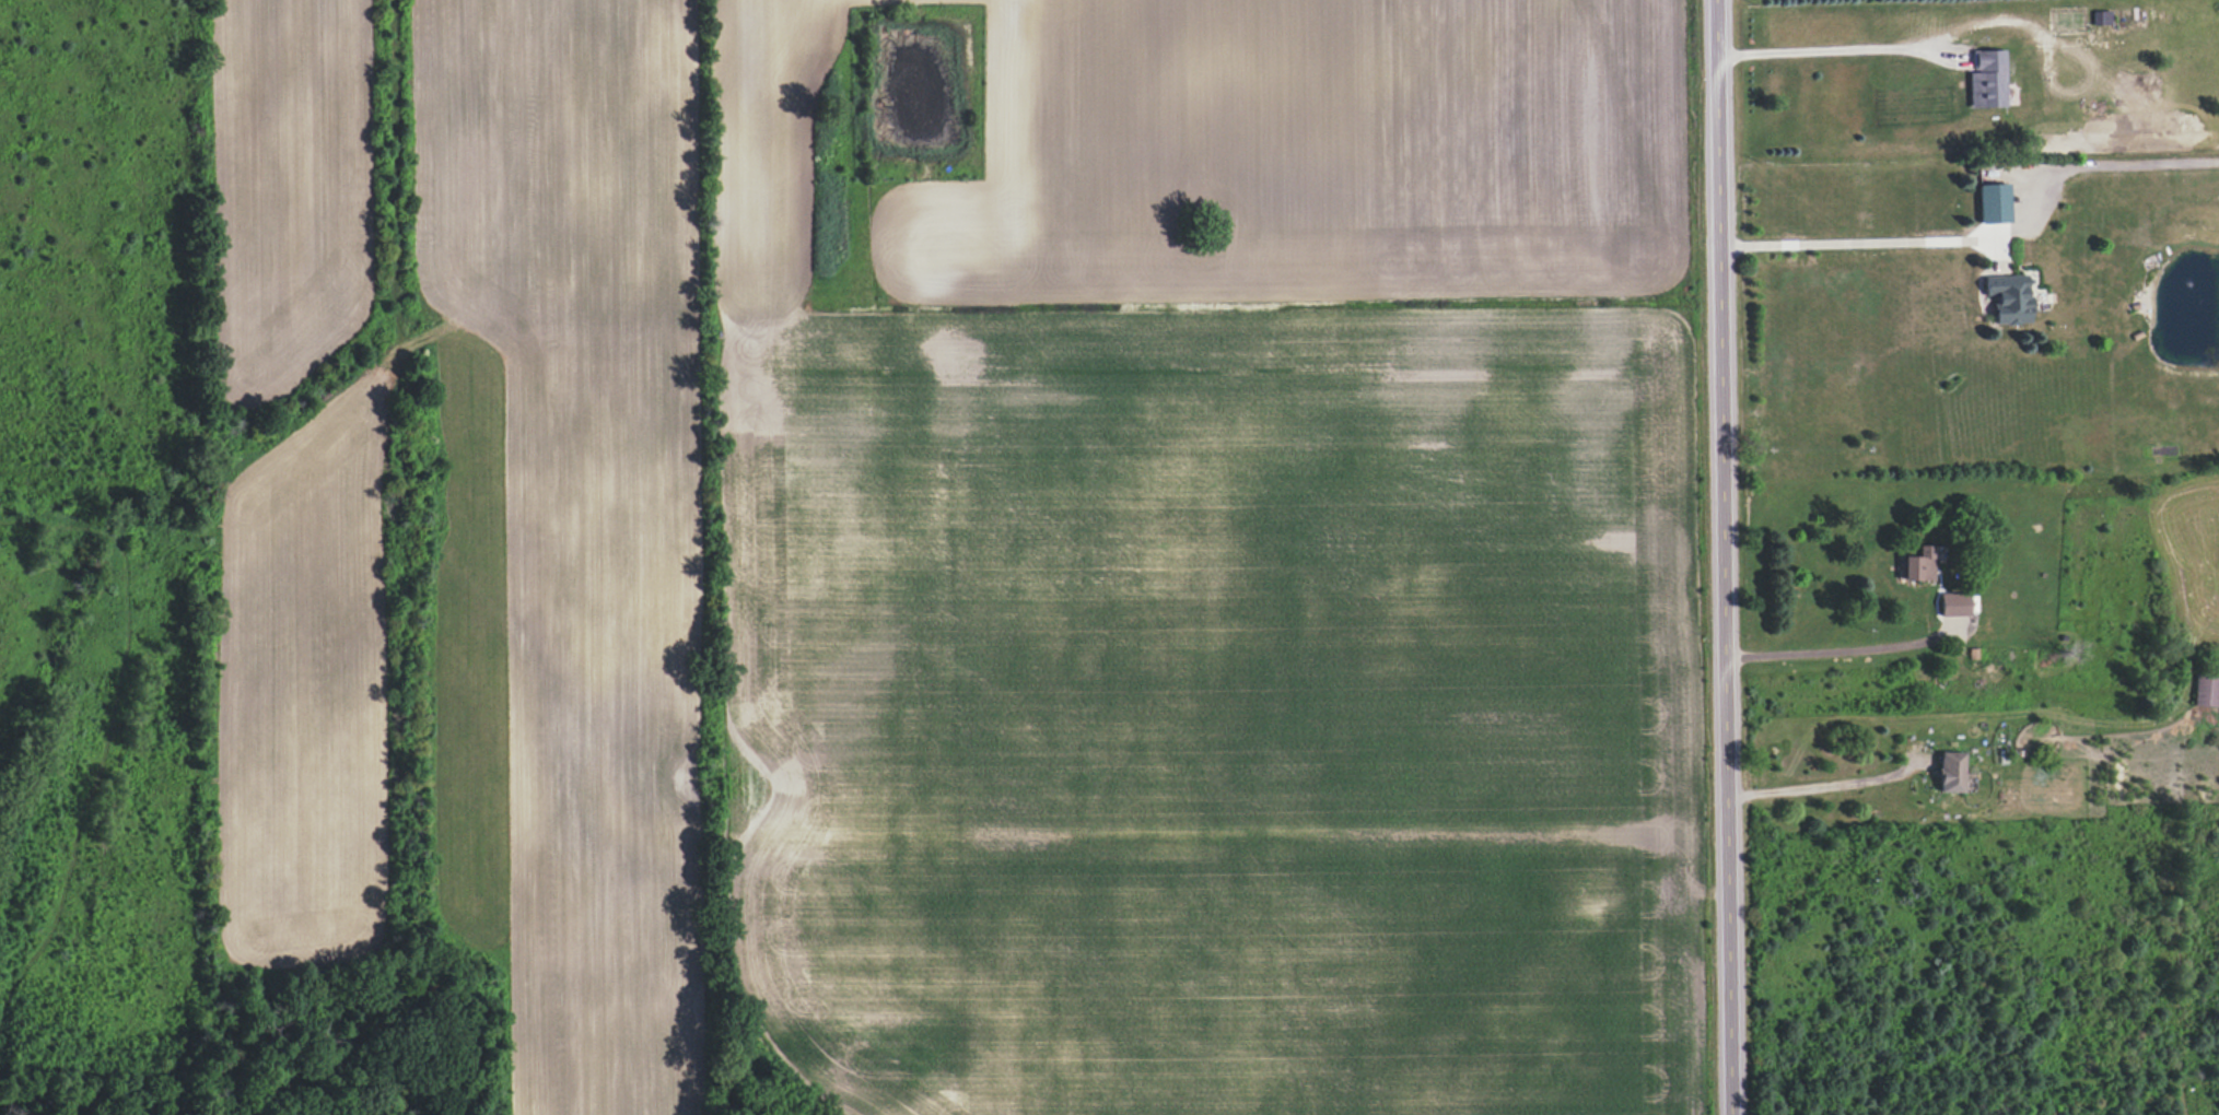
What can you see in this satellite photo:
building: (2101, 17)
road: (1832, 51)
building: (1986, 80)
building: (1993, 203)
road: (1856, 242)
building: (2008, 297)
road: (1725, 556)
building: (1916, 565)
building: (1953, 605)
road: (1836, 652)
building: (2206, 690)
building: (1950, 772)
road: (1821, 786)

